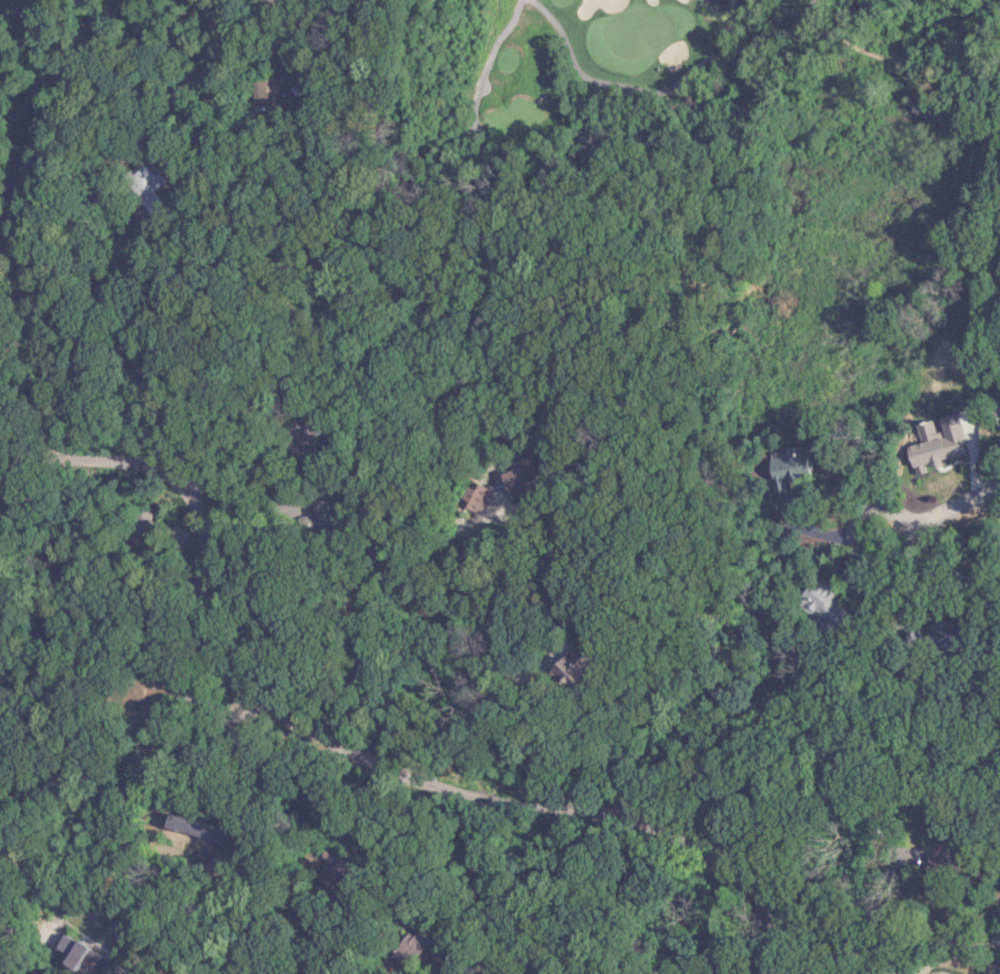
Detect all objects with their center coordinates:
road: (806, 5)
road: (747, 21)
road: (70, 32)
road: (477, 53)
road: (895, 61)
park: (697, 66)
road: (474, 79)
road: (554, 86)
road: (654, 89)
road: (466, 129)
building: (150, 180)
road: (22, 237)
building: (787, 470)
building: (526, 479)
building: (484, 493)
road: (857, 513)
building: (138, 519)
road: (917, 530)
building: (820, 595)
road: (406, 644)
road: (452, 713)
road: (129, 763)
road: (369, 773)
road: (154, 865)
road: (899, 893)
road: (737, 944)
road: (947, 949)
building: (64, 952)

